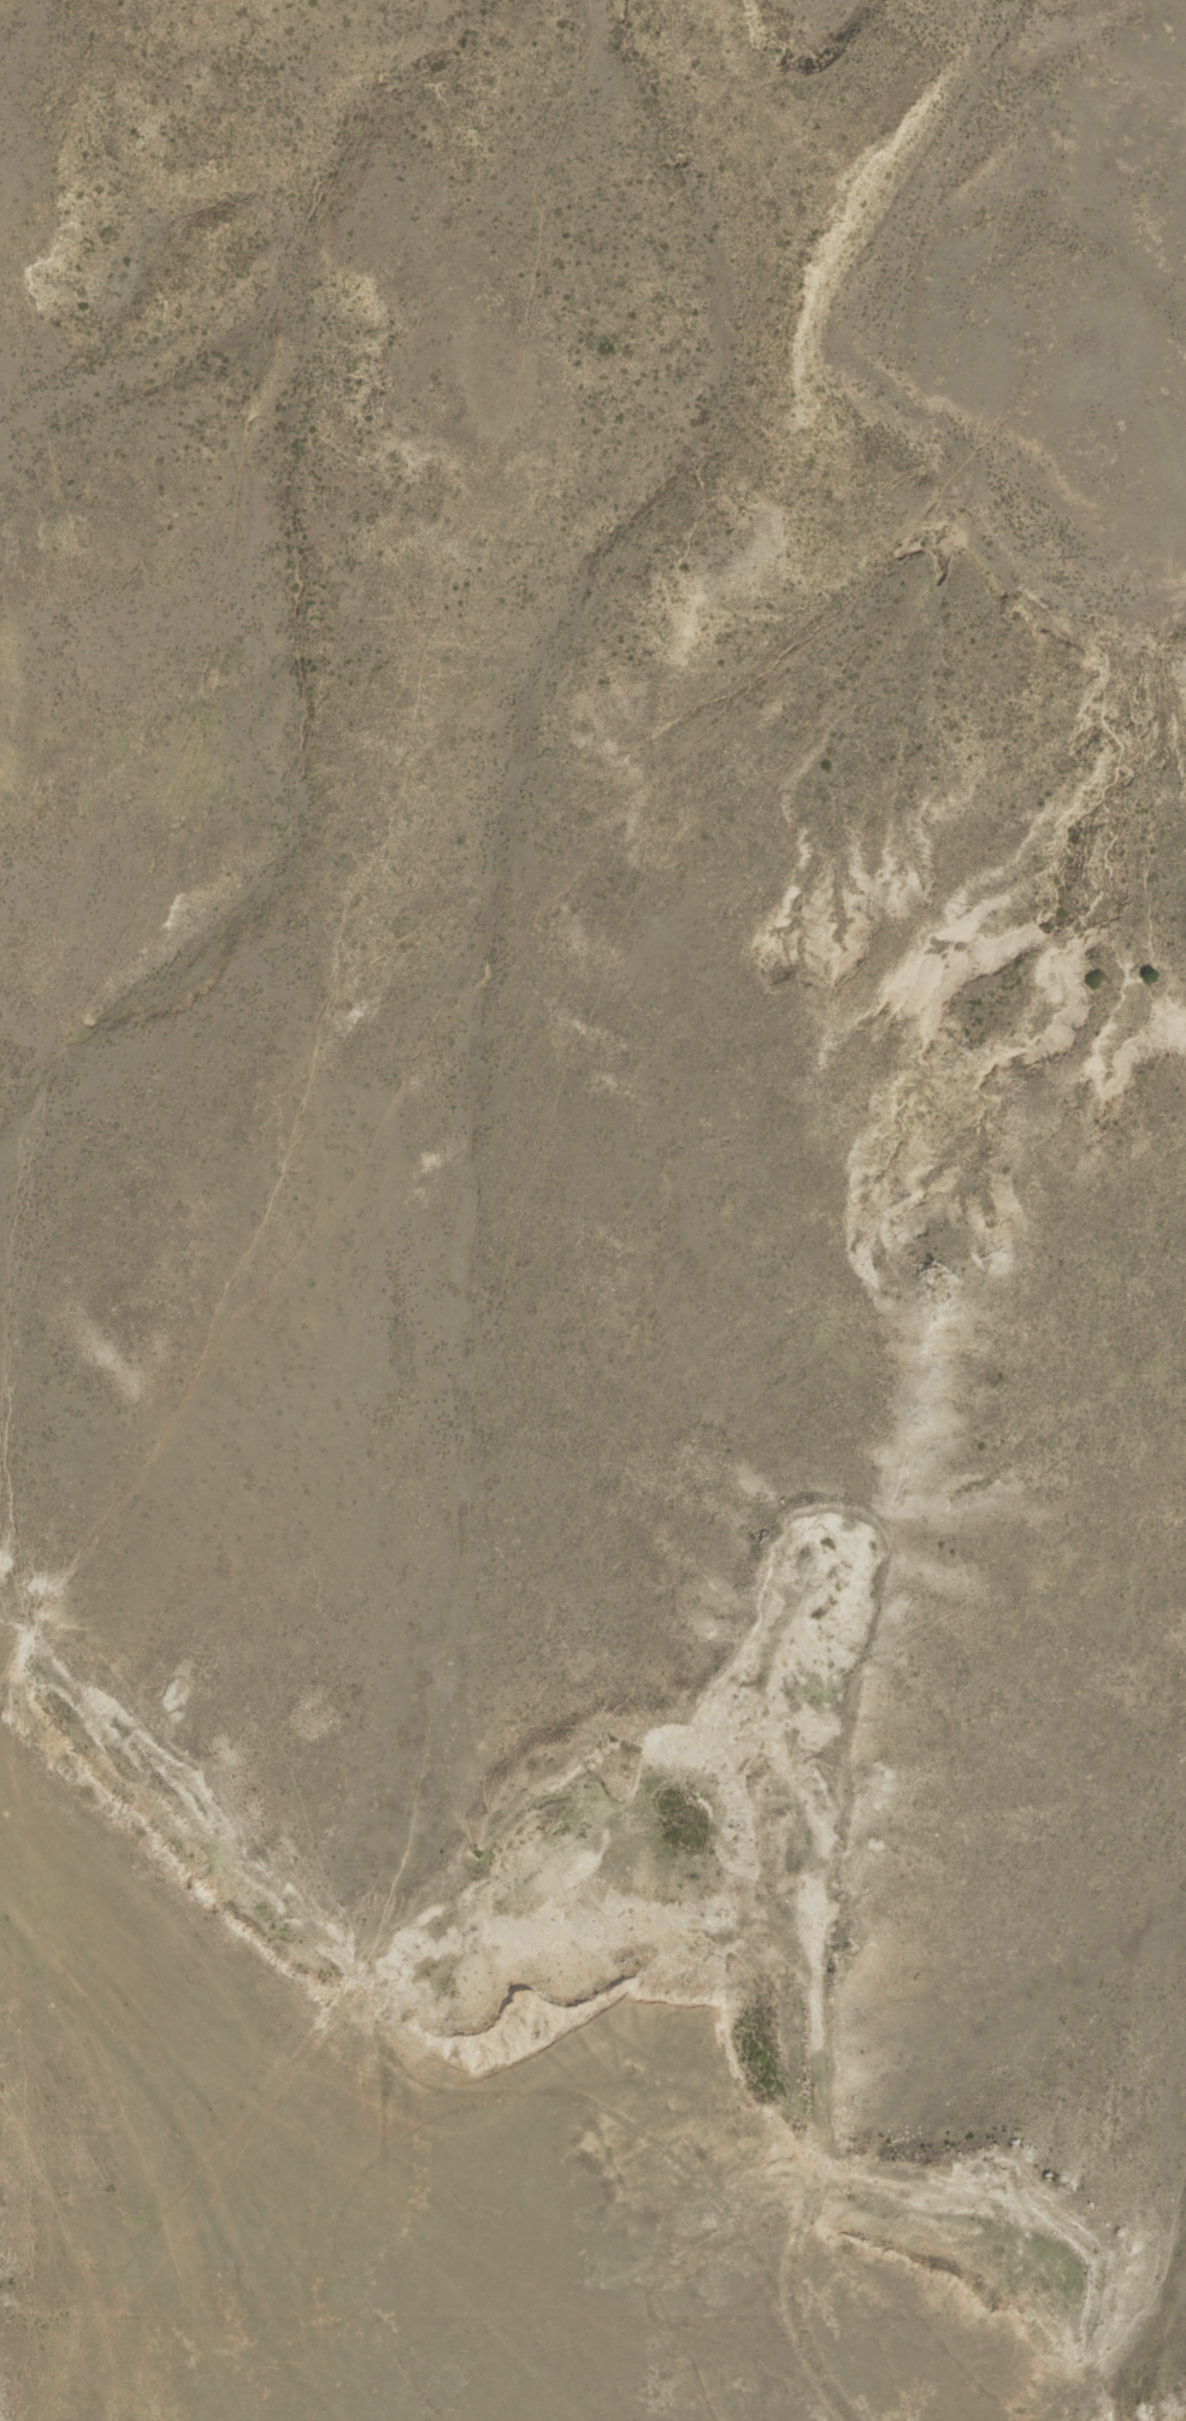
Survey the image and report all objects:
road: (722, 2157)

